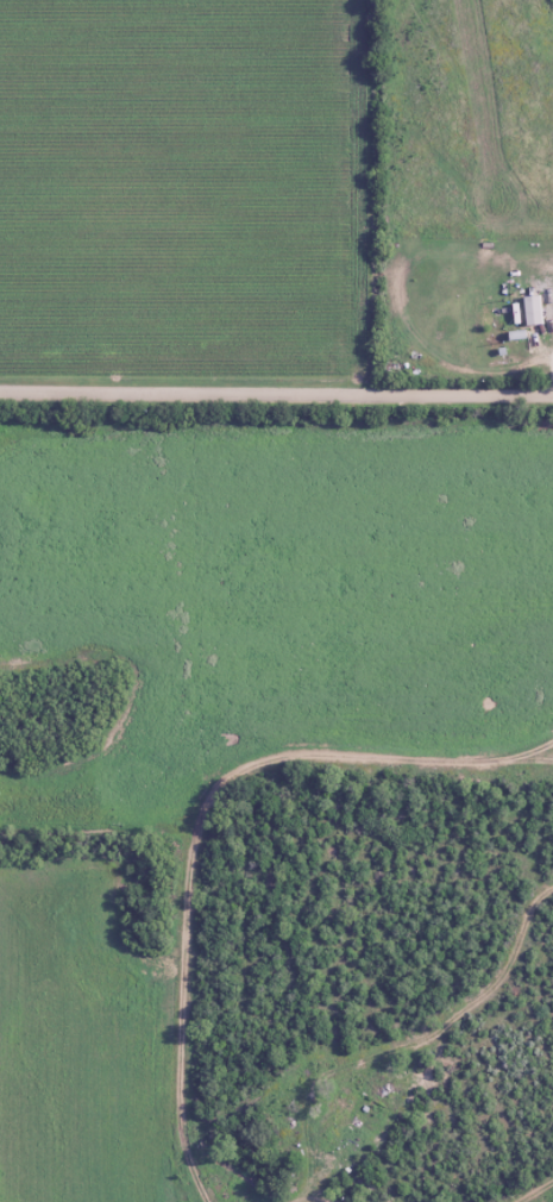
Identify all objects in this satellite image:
road: (276, 392)
road: (533, 758)
road: (197, 821)
road: (408, 1044)
building: (334, 1115)
road: (533, 1191)
road: (309, 1195)

